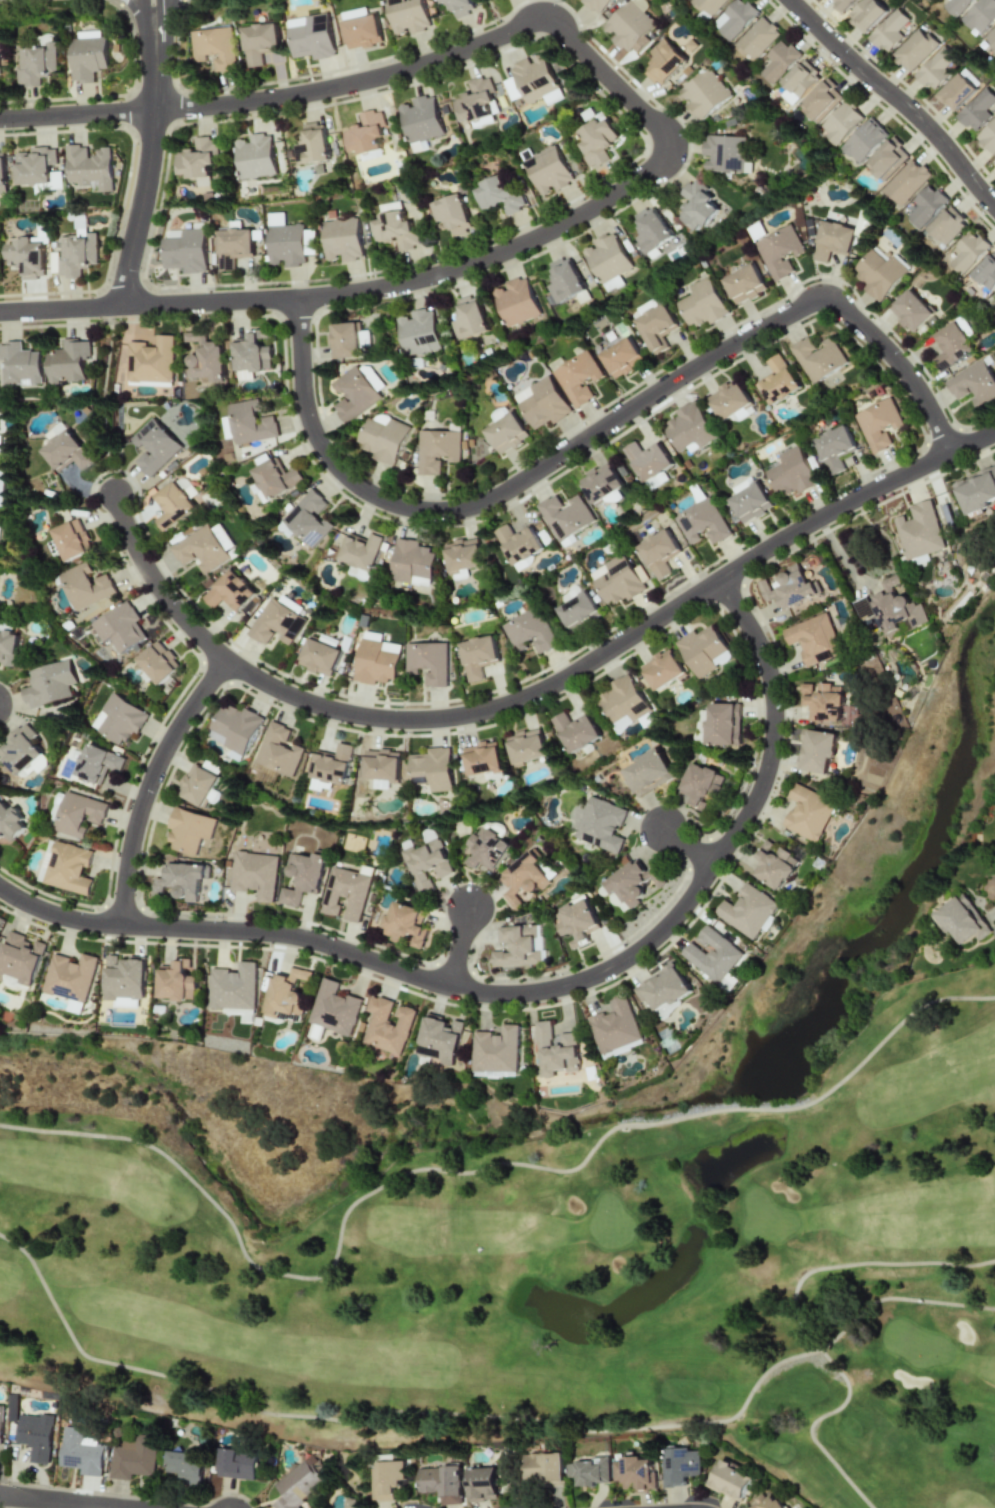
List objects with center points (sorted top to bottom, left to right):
street lamp: (561, 1)
building: (842, 4)
building: (594, 5)
building: (706, 5)
building: (458, 6)
building: (955, 6)
building: (866, 14)
building: (979, 15)
building: (407, 16)
building: (734, 18)
road: (140, 24)
road: (162, 24)
building: (628, 24)
building: (888, 30)
building: (362, 32)
building: (86, 34)
building: (311, 36)
building: (756, 38)
building: (260, 42)
building: (215, 47)
building: (914, 49)
street lamp: (492, 54)
building: (86, 58)
street lamp: (396, 58)
building: (778, 60)
building: (35, 61)
building: (664, 62)
building: (934, 68)
street lamp: (173, 76)
building: (800, 78)
building: (529, 79)
street lamp: (599, 91)
building: (954, 92)
building: (552, 96)
building: (788, 96)
road: (897, 98)
building: (819, 100)
building: (976, 110)
street lamp: (280, 112)
road: (76, 114)
building: (420, 119)
building: (840, 122)
street lamp: (10, 131)
building: (366, 133)
street lamp: (689, 134)
building: (863, 140)
building: (596, 141)
building: (312, 144)
street lamp: (134, 145)
road: (672, 147)
road: (148, 154)
building: (255, 156)
building: (886, 159)
building: (994, 159)
building: (197, 161)
building: (34, 166)
building: (88, 166)
building: (547, 170)
building: (2, 172)
building: (905, 182)
building: (497, 194)
building: (696, 206)
building: (923, 206)
building: (451, 214)
street lamp: (543, 218)
building: (947, 225)
building: (394, 226)
building: (651, 229)
building: (341, 239)
building: (833, 240)
building: (287, 241)
building: (232, 246)
building: (184, 250)
building: (968, 251)
building: (779, 252)
building: (25, 257)
building: (606, 258)
building: (985, 271)
building: (879, 272)
building: (564, 280)
building: (611, 284)
building: (744, 284)
street lamp: (437, 289)
building: (994, 293)
building: (515, 302)
street lamp: (781, 302)
building: (702, 303)
road: (62, 309)
building: (910, 311)
building: (469, 318)
building: (963, 326)
building: (656, 327)
building: (418, 332)
building: (343, 340)
building: (951, 345)
street lamp: (904, 351)
building: (251, 352)
building: (204, 358)
building: (621, 358)
building: (818, 358)
building: (150, 360)
street lamp: (733, 360)
building: (66, 361)
building: (18, 366)
building: (577, 378)
building: (777, 381)
building: (973, 384)
building: (352, 394)
street lamp: (287, 395)
street lamp: (621, 398)
road: (104, 399)
building: (541, 402)
building: (730, 402)
building: (250, 422)
building: (877, 424)
building: (226, 427)
building: (689, 428)
building: (55, 431)
building: (506, 433)
road: (594, 433)
building: (381, 438)
building: (154, 446)
building: (834, 448)
building: (436, 450)
building: (65, 452)
building: (647, 459)
street lamp: (566, 466)
building: (790, 474)
building: (275, 479)
building: (656, 480)
building: (600, 482)
building: (186, 487)
building: (976, 491)
building: (258, 493)
building: (750, 502)
building: (171, 506)
building: (564, 515)
building: (307, 519)
building: (701, 522)
street lamp: (437, 525)
building: (919, 530)
building: (72, 539)
building: (518, 543)
building: (200, 549)
building: (361, 551)
building: (658, 553)
building: (462, 557)
building: (410, 563)
building: (615, 580)
building: (86, 586)
road: (159, 586)
building: (786, 590)
building: (229, 592)
building: (895, 608)
building: (578, 611)
building: (276, 623)
building: (119, 627)
building: (529, 631)
building: (813, 639)
road: (624, 642)
building: (7, 647)
building: (703, 650)
building: (478, 656)
building: (318, 657)
building: (376, 661)
building: (157, 662)
building: (427, 662)
building: (661, 670)
building: (48, 684)
building: (821, 701)
building: (622, 702)
building: (118, 719)
building: (721, 725)
building: (234, 728)
building: (575, 731)
building: (526, 746)
building: (19, 750)
building: (278, 750)
building: (815, 750)
building: (482, 758)
building: (96, 763)
building: (332, 765)
building: (381, 765)
building: (433, 768)
building: (646, 772)
road: (151, 784)
building: (197, 784)
building: (699, 785)
building: (807, 813)
building: (78, 814)
building: (9, 823)
building: (601, 825)
building: (189, 830)
road: (689, 847)
building: (485, 850)
building: (425, 864)
building: (774, 866)
building: (68, 868)
building: (255, 874)
building: (302, 877)
building: (522, 878)
building: (181, 880)
building: (631, 882)
building: (345, 893)
building: (746, 911)
road: (992, 919)
building: (962, 920)
building: (575, 921)
building: (405, 925)
building: (519, 946)
road: (461, 949)
building: (712, 954)
building: (19, 957)
building: (69, 977)
building: (123, 978)
building: (175, 982)
building: (232, 987)
building: (662, 990)
building: (285, 993)
road: (529, 994)
building: (126, 1002)
building: (74, 1008)
building: (334, 1008)
building: (287, 1017)
building: (387, 1026)
building: (614, 1027)
building: (439, 1039)
building: (495, 1050)
building: (554, 1051)
park: (529, 1249)
building: (12, 1408)
building: (0, 1422)
building: (35, 1436)
building: (79, 1452)
building: (132, 1458)
building: (236, 1464)
building: (183, 1466)
building: (679, 1466)
building: (543, 1467)
building: (590, 1471)
building: (634, 1472)
building: (385, 1479)
building: (728, 1481)
building: (441, 1483)
building: (297, 1484)
building: (481, 1484)
building: (765, 1502)
road: (32, 1503)

